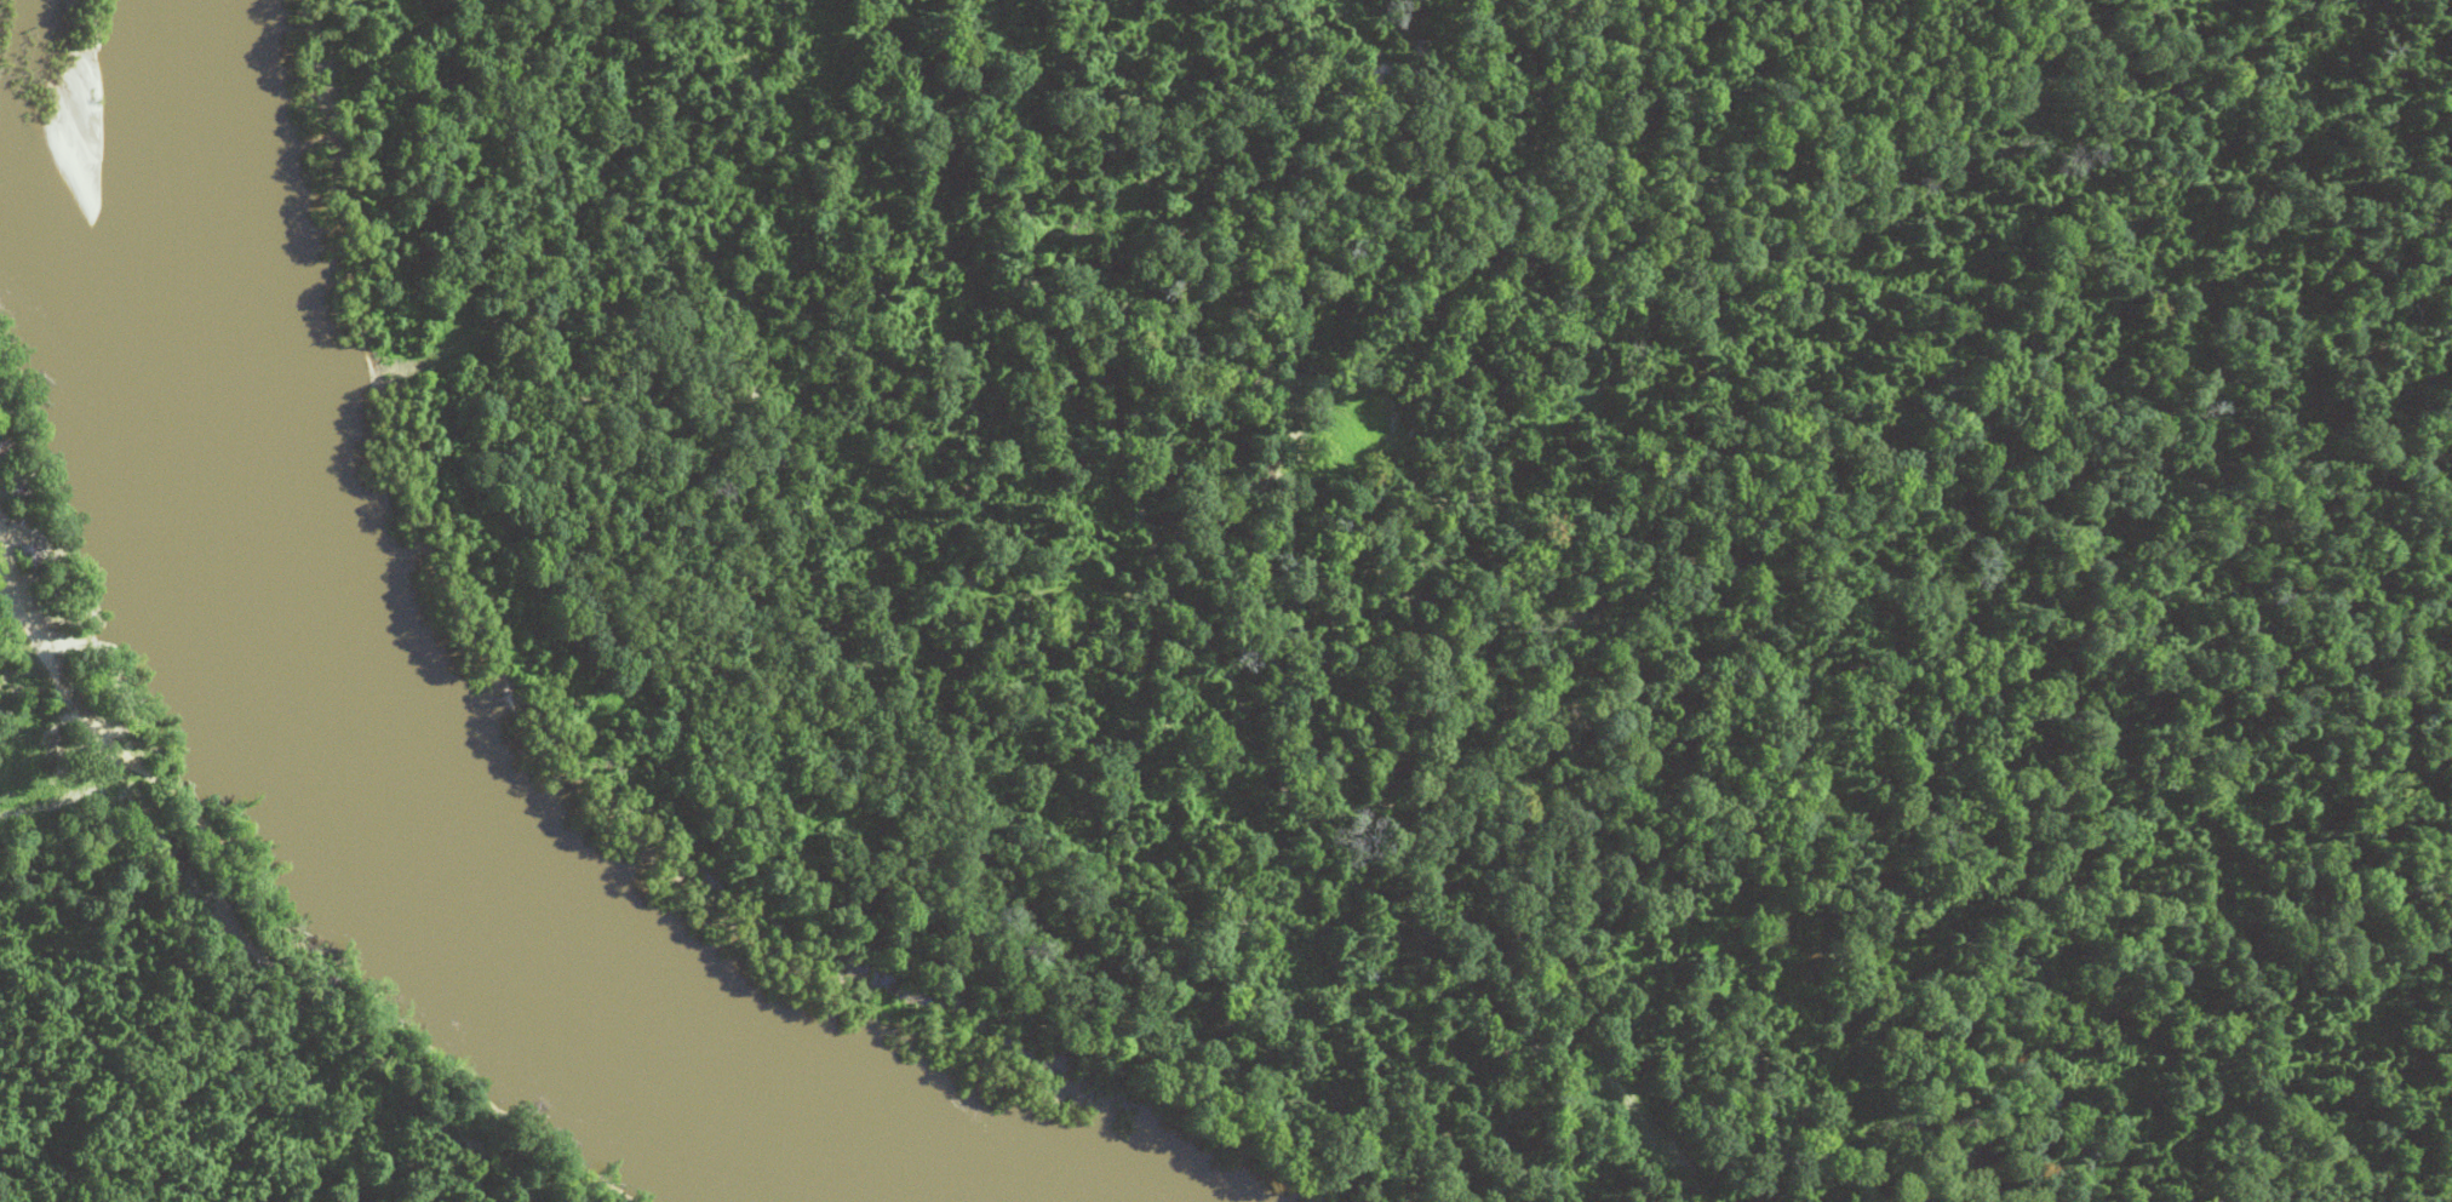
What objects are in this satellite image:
river: (294, 780)

